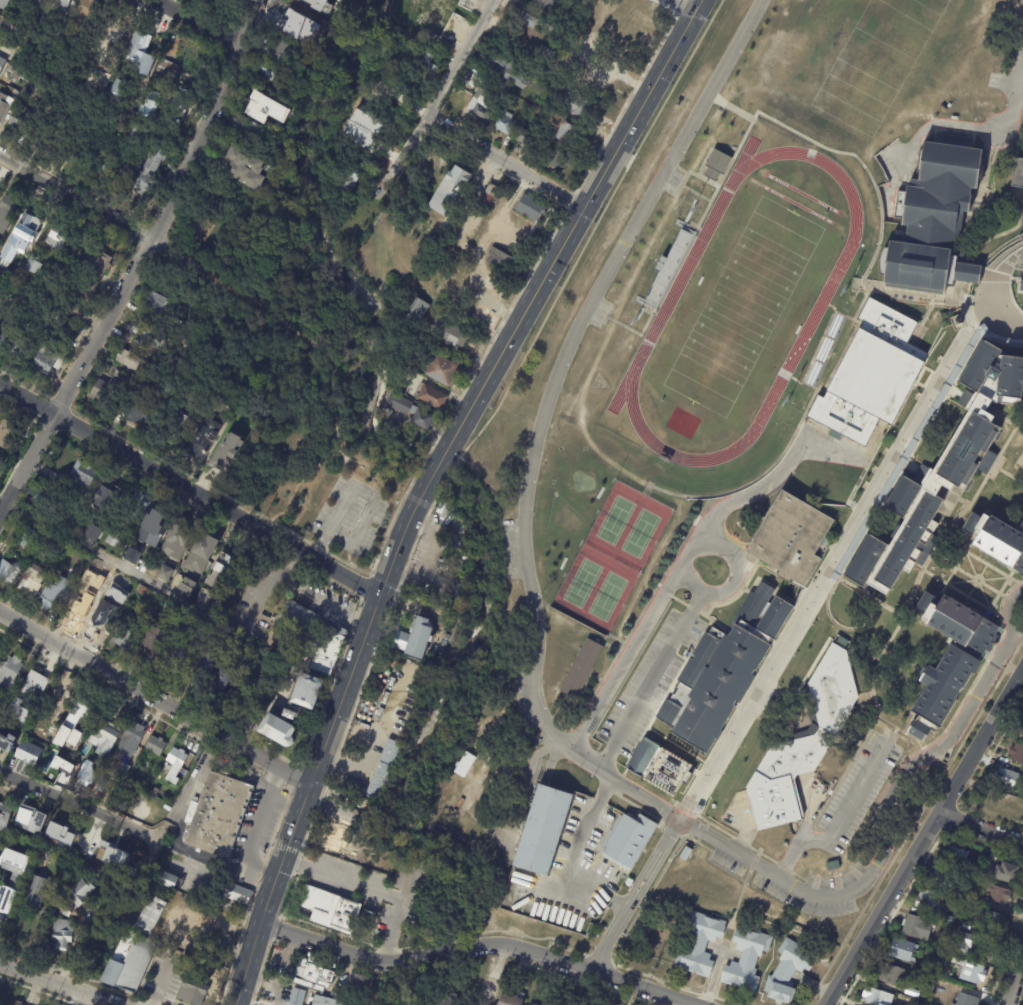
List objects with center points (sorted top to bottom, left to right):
building: (38, 1)
building: (227, 1)
building: (315, 3)
building: (5, 4)
building: (543, 4)
building: (65, 5)
building: (446, 5)
road: (686, 5)
building: (334, 6)
building: (87, 14)
building: (1, 17)
building: (522, 17)
road: (203, 20)
building: (293, 22)
building: (114, 37)
building: (151, 43)
building: (325, 46)
building: (277, 51)
building: (139, 54)
building: (545, 56)
building: (2, 63)
building: (428, 66)
building: (24, 67)
park: (874, 67)
building: (170, 69)
building: (509, 70)
building: (267, 71)
building: (119, 90)
park: (365, 91)
road: (440, 95)
building: (577, 105)
building: (151, 106)
building: (481, 106)
building: (4, 107)
road: (735, 108)
building: (175, 109)
building: (539, 109)
building: (943, 109)
building: (267, 112)
building: (119, 123)
building: (503, 123)
building: (18, 124)
building: (239, 128)
building: (364, 129)
road: (988, 130)
building: (565, 134)
building: (48, 135)
building: (137, 137)
building: (527, 140)
road: (812, 141)
building: (70, 147)
building: (95, 156)
building: (552, 159)
road: (505, 162)
building: (715, 162)
building: (885, 162)
building: (245, 166)
building: (145, 172)
building: (1017, 173)
building: (342, 180)
building: (449, 193)
road: (76, 198)
building: (487, 200)
building: (529, 209)
building: (9, 212)
building: (933, 215)
road: (569, 230)
building: (59, 238)
road: (166, 249)
road: (141, 261)
building: (500, 261)
building: (35, 266)
building: (436, 267)
building: (966, 273)
building: (92, 278)
building: (463, 280)
building: (42, 282)
building: (1021, 282)
building: (3, 294)
road: (52, 296)
building: (153, 303)
park: (742, 305)
building: (459, 307)
track: (816, 308)
building: (414, 311)
stadium: (733, 311)
building: (957, 322)
building: (66, 327)
building: (448, 332)
building: (10, 334)
building: (149, 335)
park: (283, 344)
building: (25, 351)
building: (50, 362)
building: (127, 362)
building: (977, 367)
building: (443, 370)
road: (325, 376)
building: (871, 376)
building: (1009, 377)
building: (171, 390)
building: (102, 395)
building: (432, 396)
building: (410, 409)
building: (137, 414)
road: (1006, 419)
building: (178, 423)
building: (8, 434)
building: (202, 441)
building: (967, 451)
building: (223, 458)
road: (435, 468)
road: (532, 472)
building: (83, 476)
building: (0, 477)
road: (189, 490)
road: (359, 491)
building: (109, 493)
building: (901, 495)
road: (861, 499)
building: (46, 501)
building: (138, 506)
parking lot: (352, 517)
park: (614, 518)
building: (152, 527)
road: (948, 527)
building: (94, 532)
park: (639, 532)
building: (789, 537)
building: (116, 538)
building: (25, 539)
building: (996, 539)
building: (905, 541)
building: (179, 542)
building: (63, 544)
building: (204, 553)
building: (132, 555)
road: (103, 556)
building: (864, 560)
road: (294, 563)
road: (823, 571)
building: (9, 572)
building: (220, 572)
road: (738, 572)
building: (167, 573)
road: (933, 576)
road: (976, 580)
road: (977, 580)
road: (977, 580)
building: (34, 582)
park: (581, 582)
road: (692, 583)
building: (190, 585)
road: (260, 586)
building: (143, 591)
building: (54, 593)
road: (997, 594)
building: (206, 595)
park: (606, 595)
road: (983, 595)
road: (325, 600)
building: (81, 606)
building: (168, 606)
building: (189, 616)
building: (105, 620)
road: (861, 625)
building: (319, 634)
building: (127, 636)
building: (213, 638)
building: (417, 641)
building: (155, 642)
building: (238, 643)
building: (0, 648)
road: (987, 656)
building: (945, 660)
building: (173, 664)
building: (734, 667)
building: (583, 669)
building: (205, 670)
building: (11, 674)
building: (227, 679)
building: (42, 682)
building: (834, 685)
building: (309, 691)
building: (62, 697)
road: (155, 699)
road: (965, 705)
building: (1, 711)
building: (19, 711)
building: (297, 714)
building: (29, 720)
building: (56, 724)
building: (75, 726)
building: (277, 728)
building: (106, 737)
road: (327, 738)
building: (7, 741)
building: (133, 741)
building: (157, 746)
building: (28, 751)
building: (1016, 753)
building: (69, 755)
building: (642, 756)
building: (85, 759)
road: (589, 761)
building: (177, 763)
road: (356, 764)
building: (464, 765)
building: (386, 770)
building: (71, 771)
building: (124, 771)
building: (665, 773)
building: (1007, 779)
building: (105, 789)
building: (1017, 801)
building: (772, 802)
road: (284, 803)
road: (78, 806)
building: (698, 810)
building: (4, 812)
building: (220, 815)
building: (32, 819)
road: (914, 821)
road: (835, 825)
road: (256, 828)
road: (980, 828)
building: (541, 830)
building: (57, 832)
road: (923, 836)
road: (721, 839)
building: (338, 840)
building: (627, 844)
building: (76, 846)
building: (0, 849)
building: (685, 854)
building: (958, 857)
building: (380, 866)
building: (833, 866)
building: (11, 873)
building: (1006, 873)
building: (943, 877)
building: (167, 880)
road: (246, 882)
building: (629, 882)
building: (119, 888)
road: (369, 889)
building: (34, 891)
building: (79, 892)
building: (959, 893)
building: (238, 894)
road: (636, 894)
building: (998, 894)
building: (978, 900)
building: (933, 902)
building: (63, 910)
building: (333, 910)
building: (206, 911)
building: (151, 915)
building: (949, 920)
building: (992, 921)
building: (188, 924)
building: (226, 927)
building: (918, 928)
building: (97, 933)
building: (61, 934)
building: (940, 936)
building: (964, 942)
building: (903, 950)
road: (343, 954)
road: (436, 958)
building: (740, 958)
building: (129, 964)
road: (568, 964)
building: (927, 970)
building: (972, 972)
building: (889, 974)
building: (313, 976)
road: (1014, 979)
road: (163, 982)
building: (360, 982)
road: (58, 984)
building: (192, 992)
building: (488, 995)
building: (297, 997)
building: (877, 997)
building: (511, 998)
building: (964, 999)
building: (326, 1001)
building: (442, 1001)
building: (15, 1003)
building: (530, 1004)

